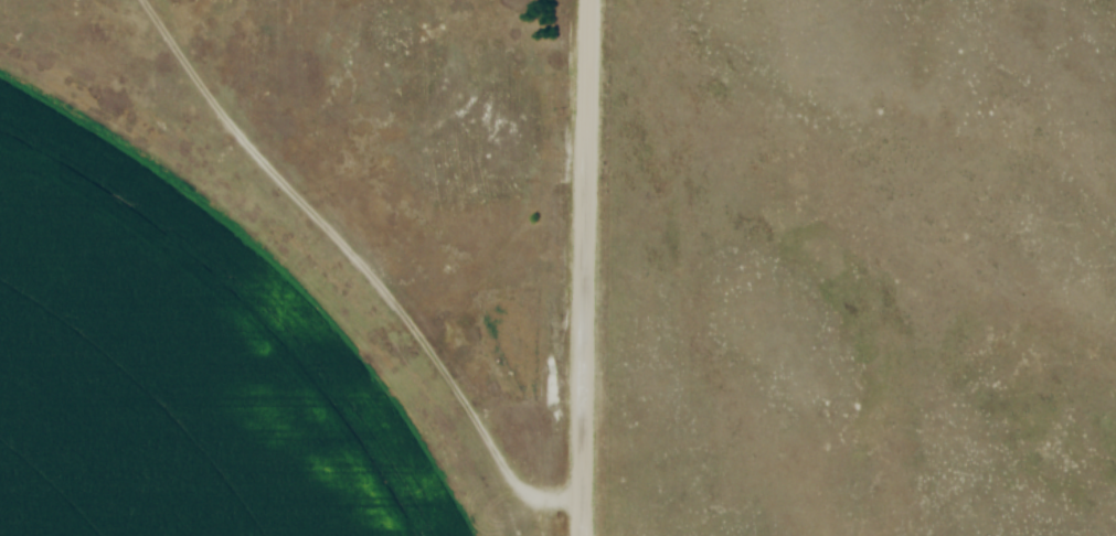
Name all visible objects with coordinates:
road: (586, 267)

